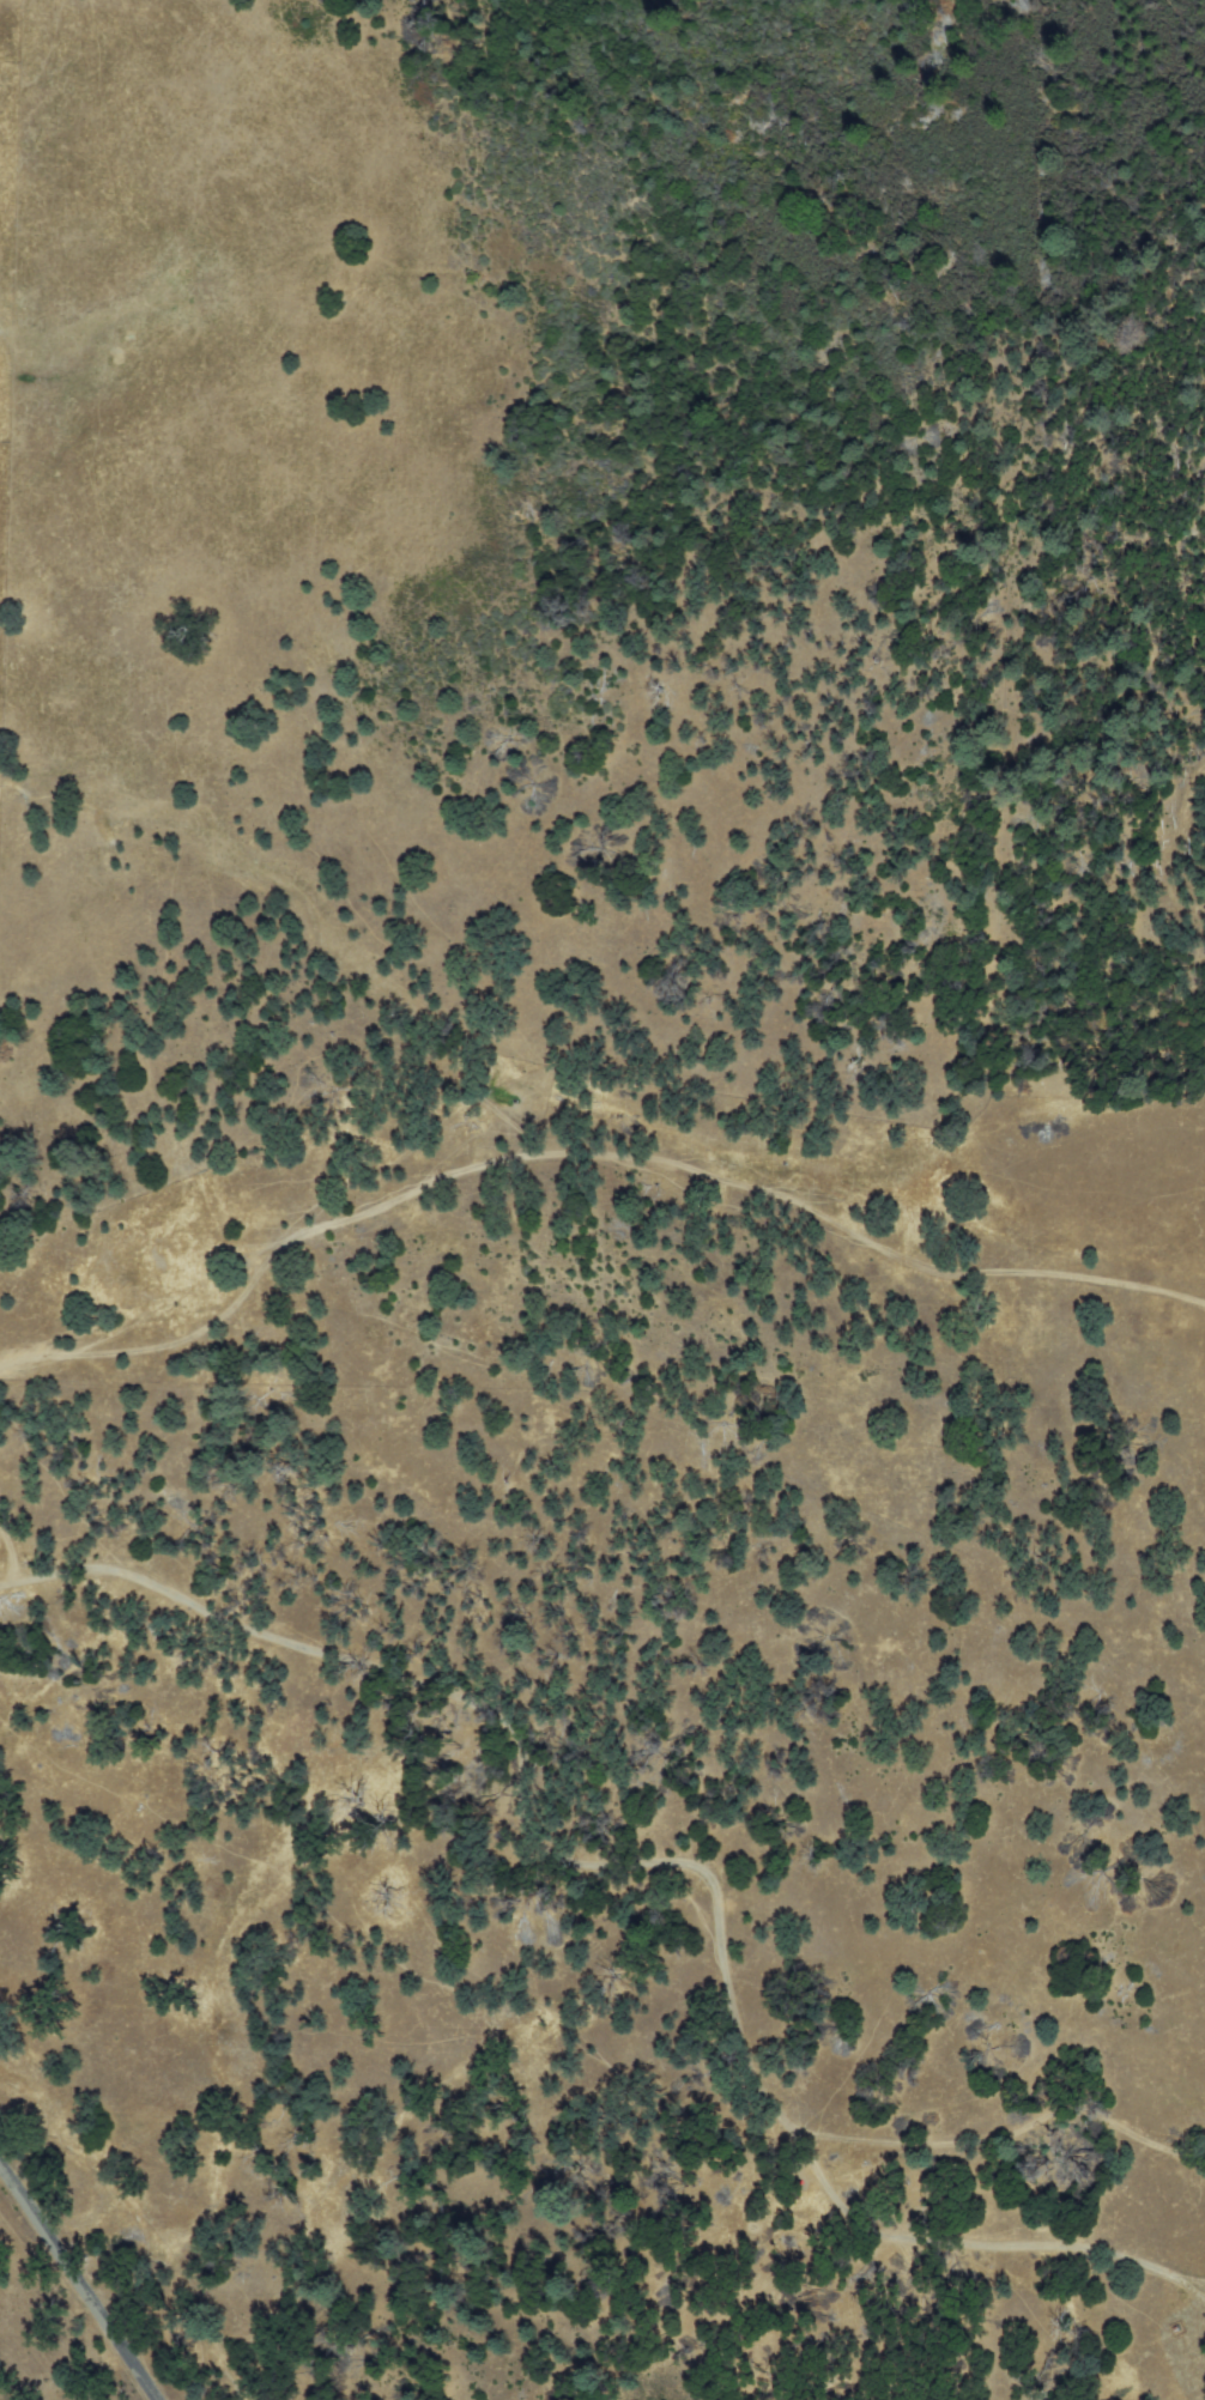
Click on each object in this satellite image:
road: (588, 1159)
road: (81, 2285)

